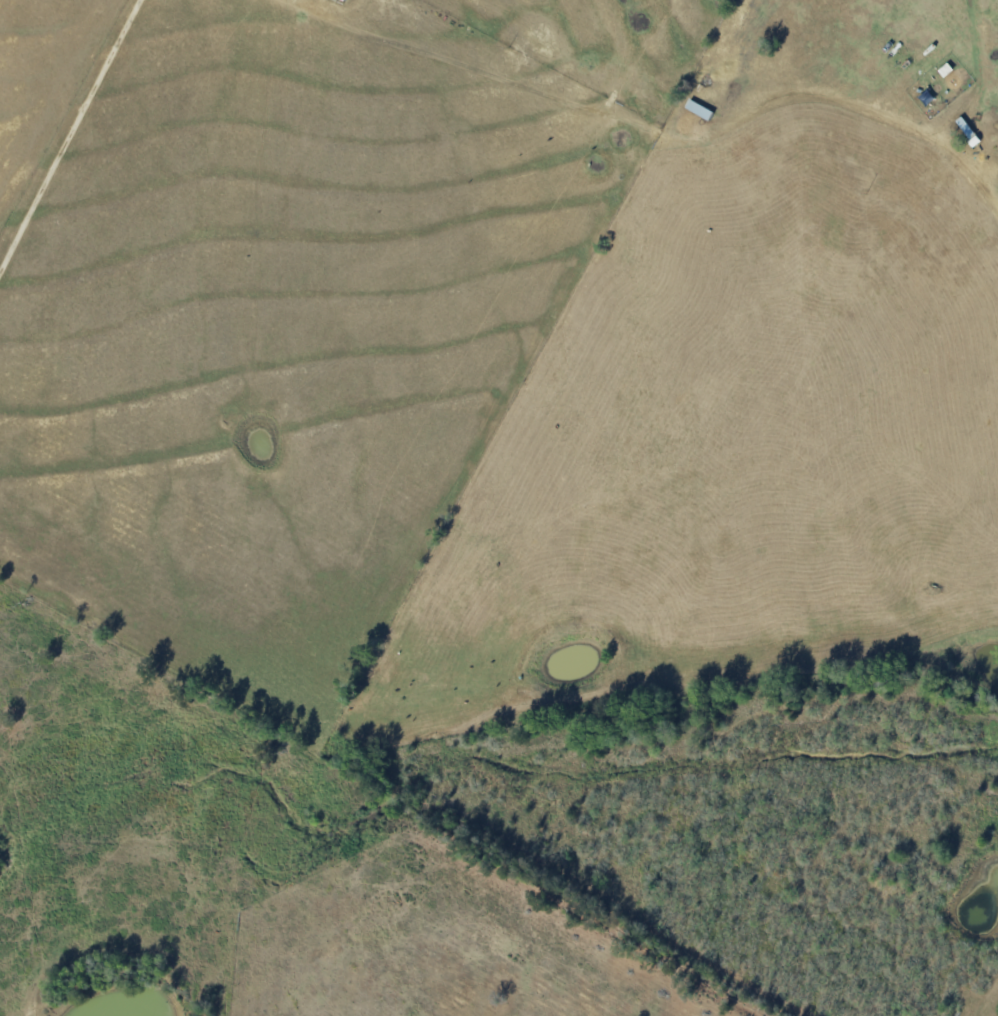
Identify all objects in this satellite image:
crop: (48, 91)
road: (845, 103)
road: (75, 146)

